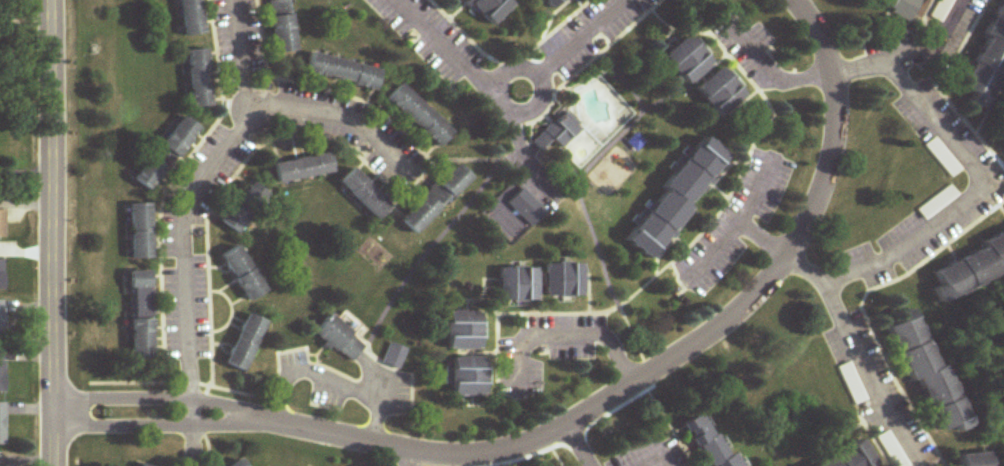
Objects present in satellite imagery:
building: (546, 2)
building: (899, 7)
building: (490, 8)
building: (940, 10)
building: (190, 18)
road: (20, 21)
building: (281, 26)
road: (940, 44)
road: (254, 56)
building: (686, 61)
building: (987, 62)
building: (343, 72)
road: (771, 74)
building: (198, 79)
building: (719, 94)
road: (515, 98)
building: (418, 117)
building: (556, 133)
building: (179, 138)
building: (303, 169)
road: (206, 170)
road: (22, 171)
building: (148, 175)
road: (975, 175)
building: (364, 196)
building: (434, 200)
building: (676, 200)
building: (243, 210)
road: (740, 220)
building: (1, 225)
road: (44, 233)
building: (140, 233)
road: (715, 245)
building: (970, 270)
building: (241, 275)
building: (1, 276)
building: (562, 281)
building: (516, 285)
building: (140, 316)
building: (1, 322)
building: (462, 331)
building: (338, 340)
road: (589, 340)
building: (243, 344)
road: (864, 355)
building: (393, 357)
building: (1, 373)
building: (926, 374)
road: (332, 378)
building: (467, 378)
building: (852, 384)
road: (582, 418)
building: (1, 425)
road: (194, 439)
building: (706, 443)
road: (578, 447)
building: (850, 458)
road: (410, 459)
building: (973, 460)
building: (236, 464)
building: (138, 465)

